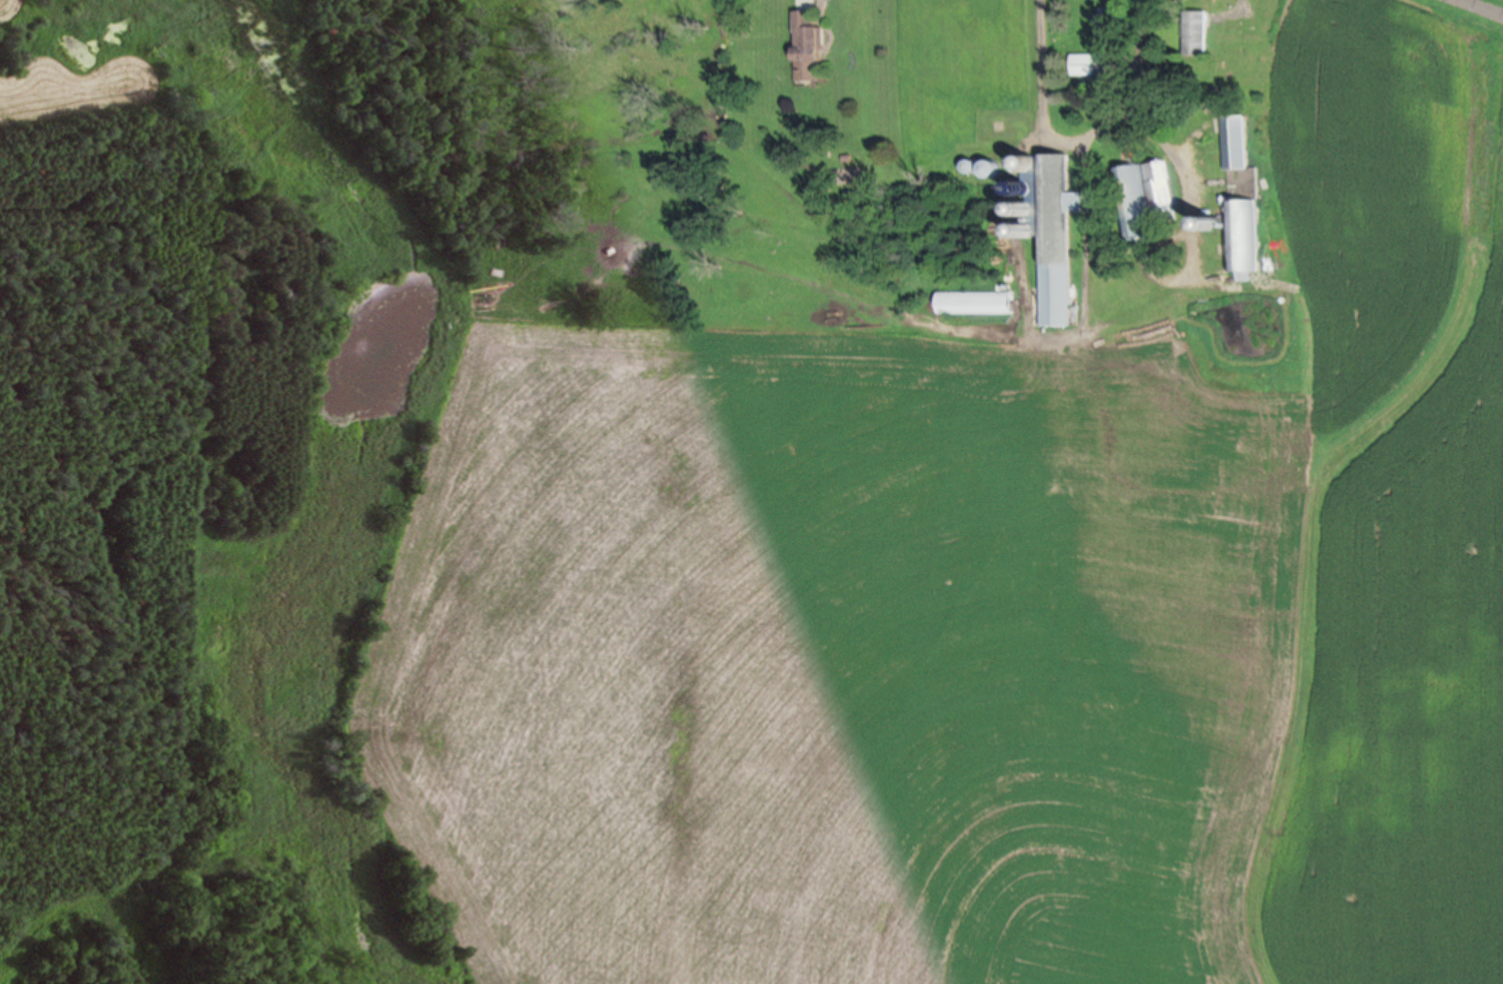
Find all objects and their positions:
road: (1471, 11)
building: (1196, 31)
building: (807, 38)
building: (1083, 64)
road: (1072, 134)
building: (1238, 153)
building: (1146, 197)
building: (1051, 232)
building: (1244, 236)
building: (975, 302)

